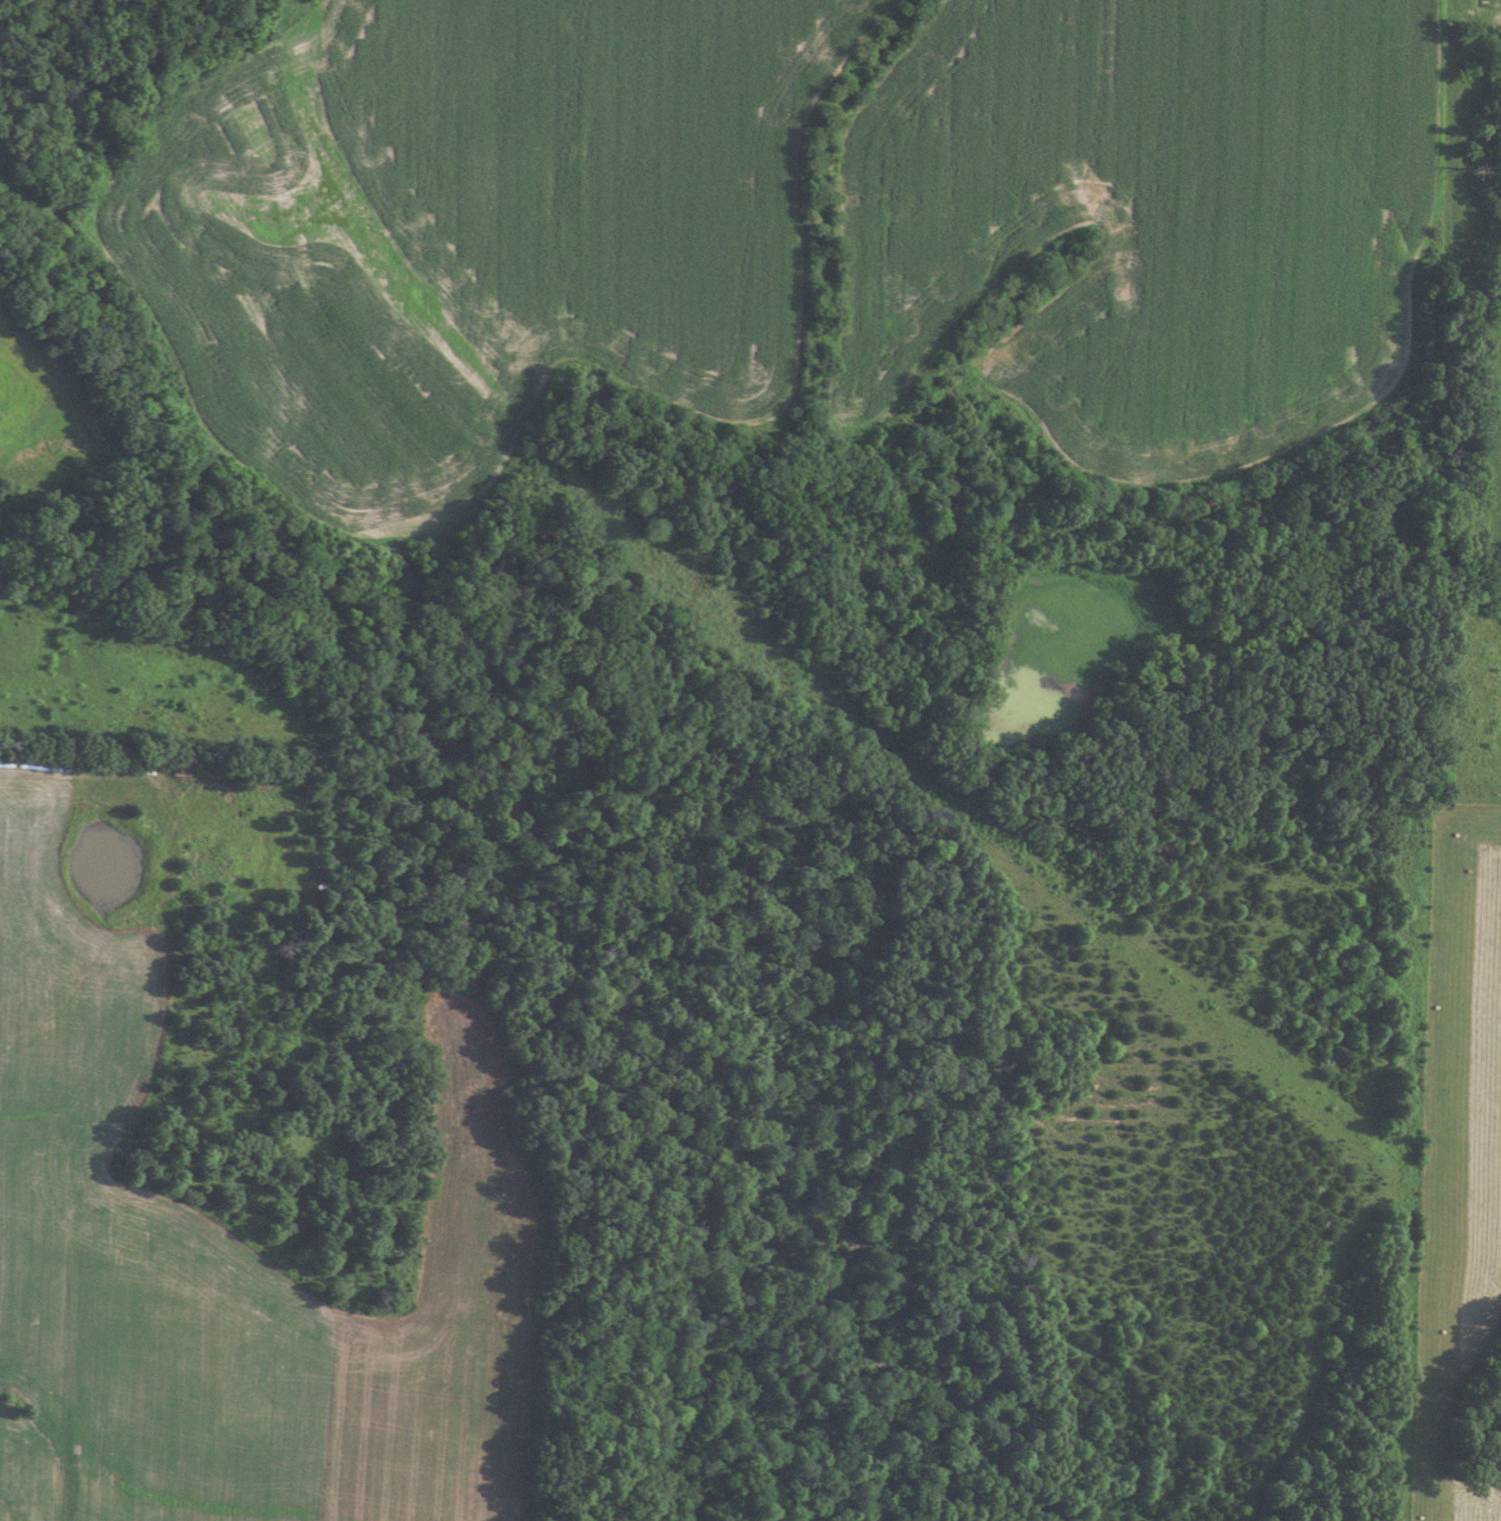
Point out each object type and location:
road: (133, 774)

